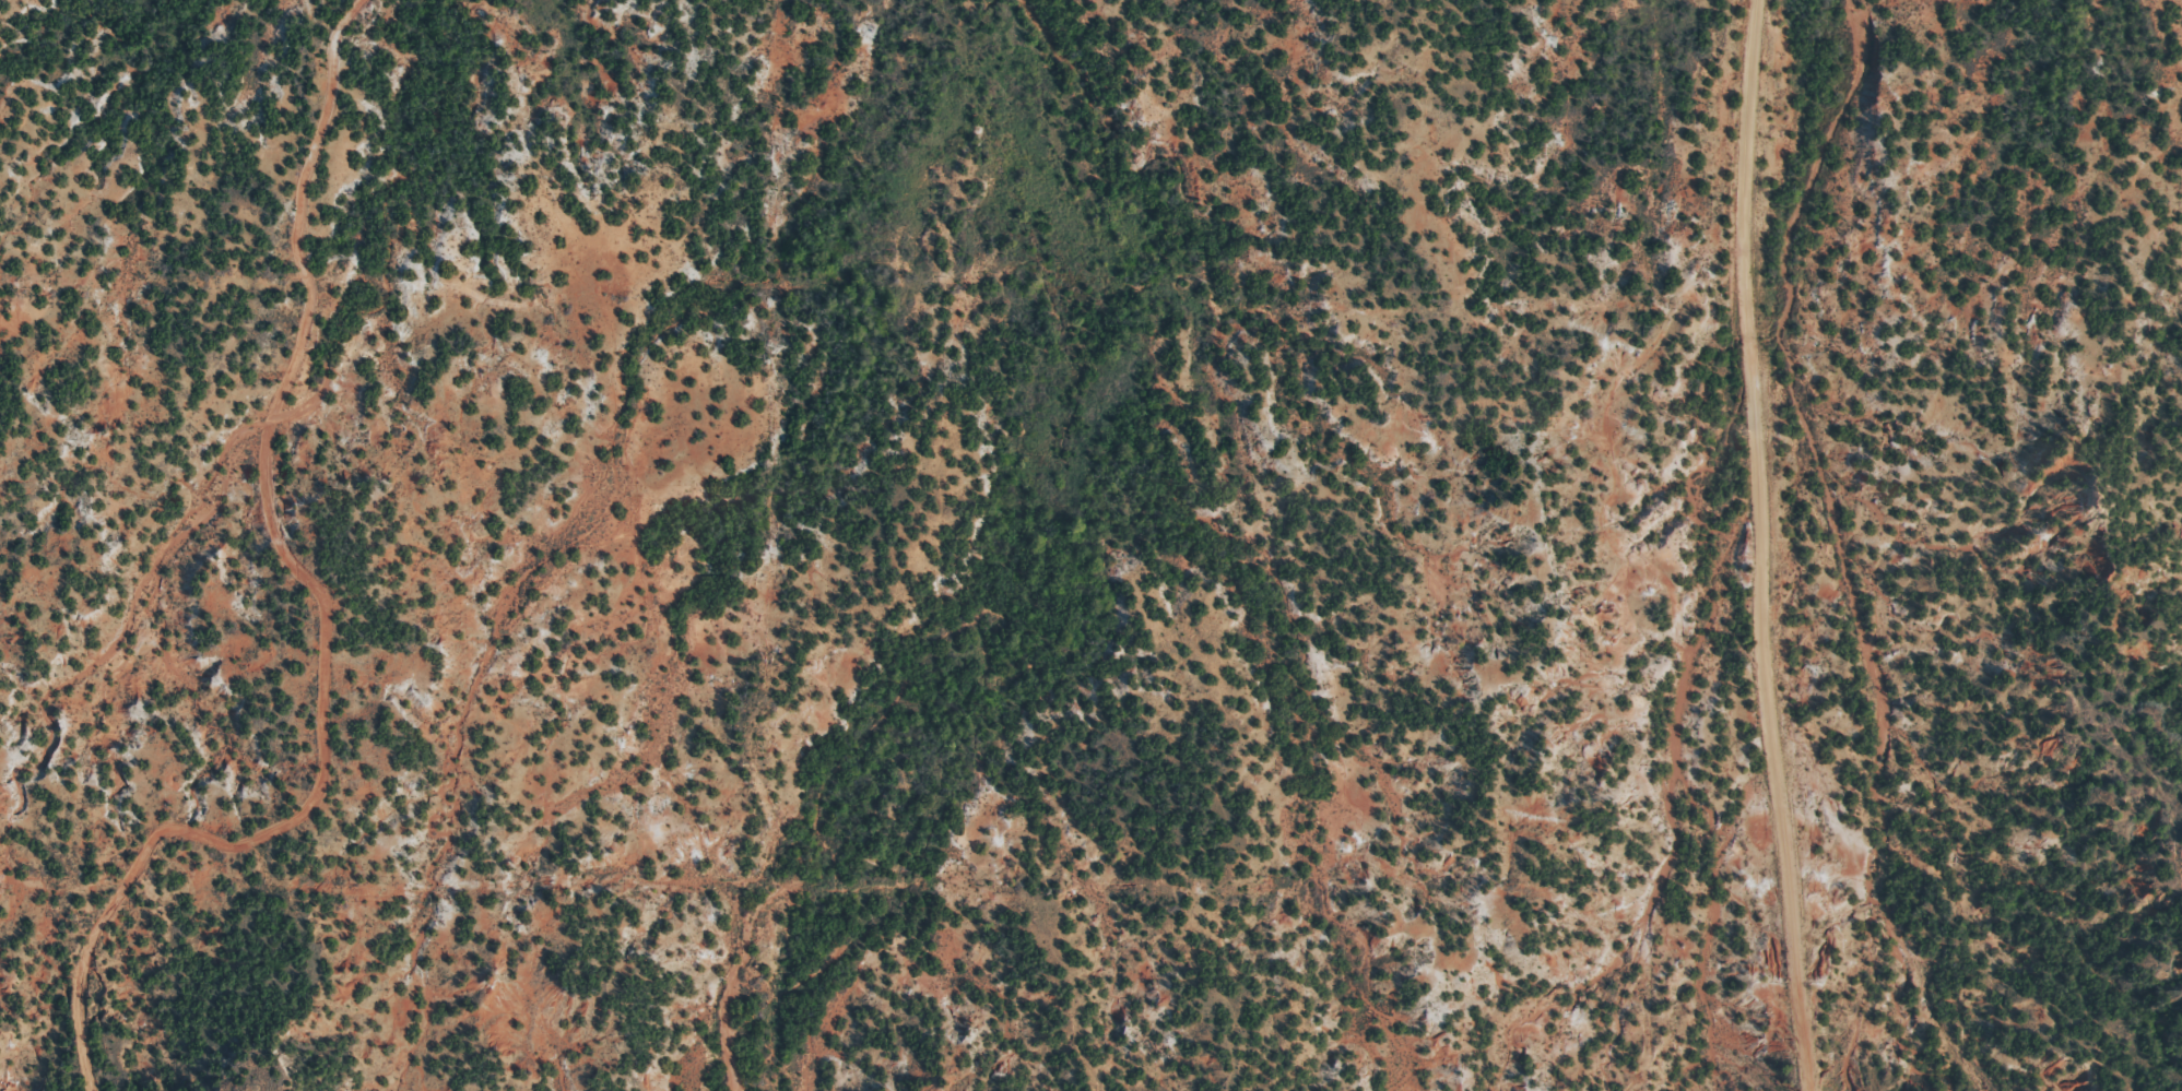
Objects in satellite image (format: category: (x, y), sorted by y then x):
road: (1762, 546)

